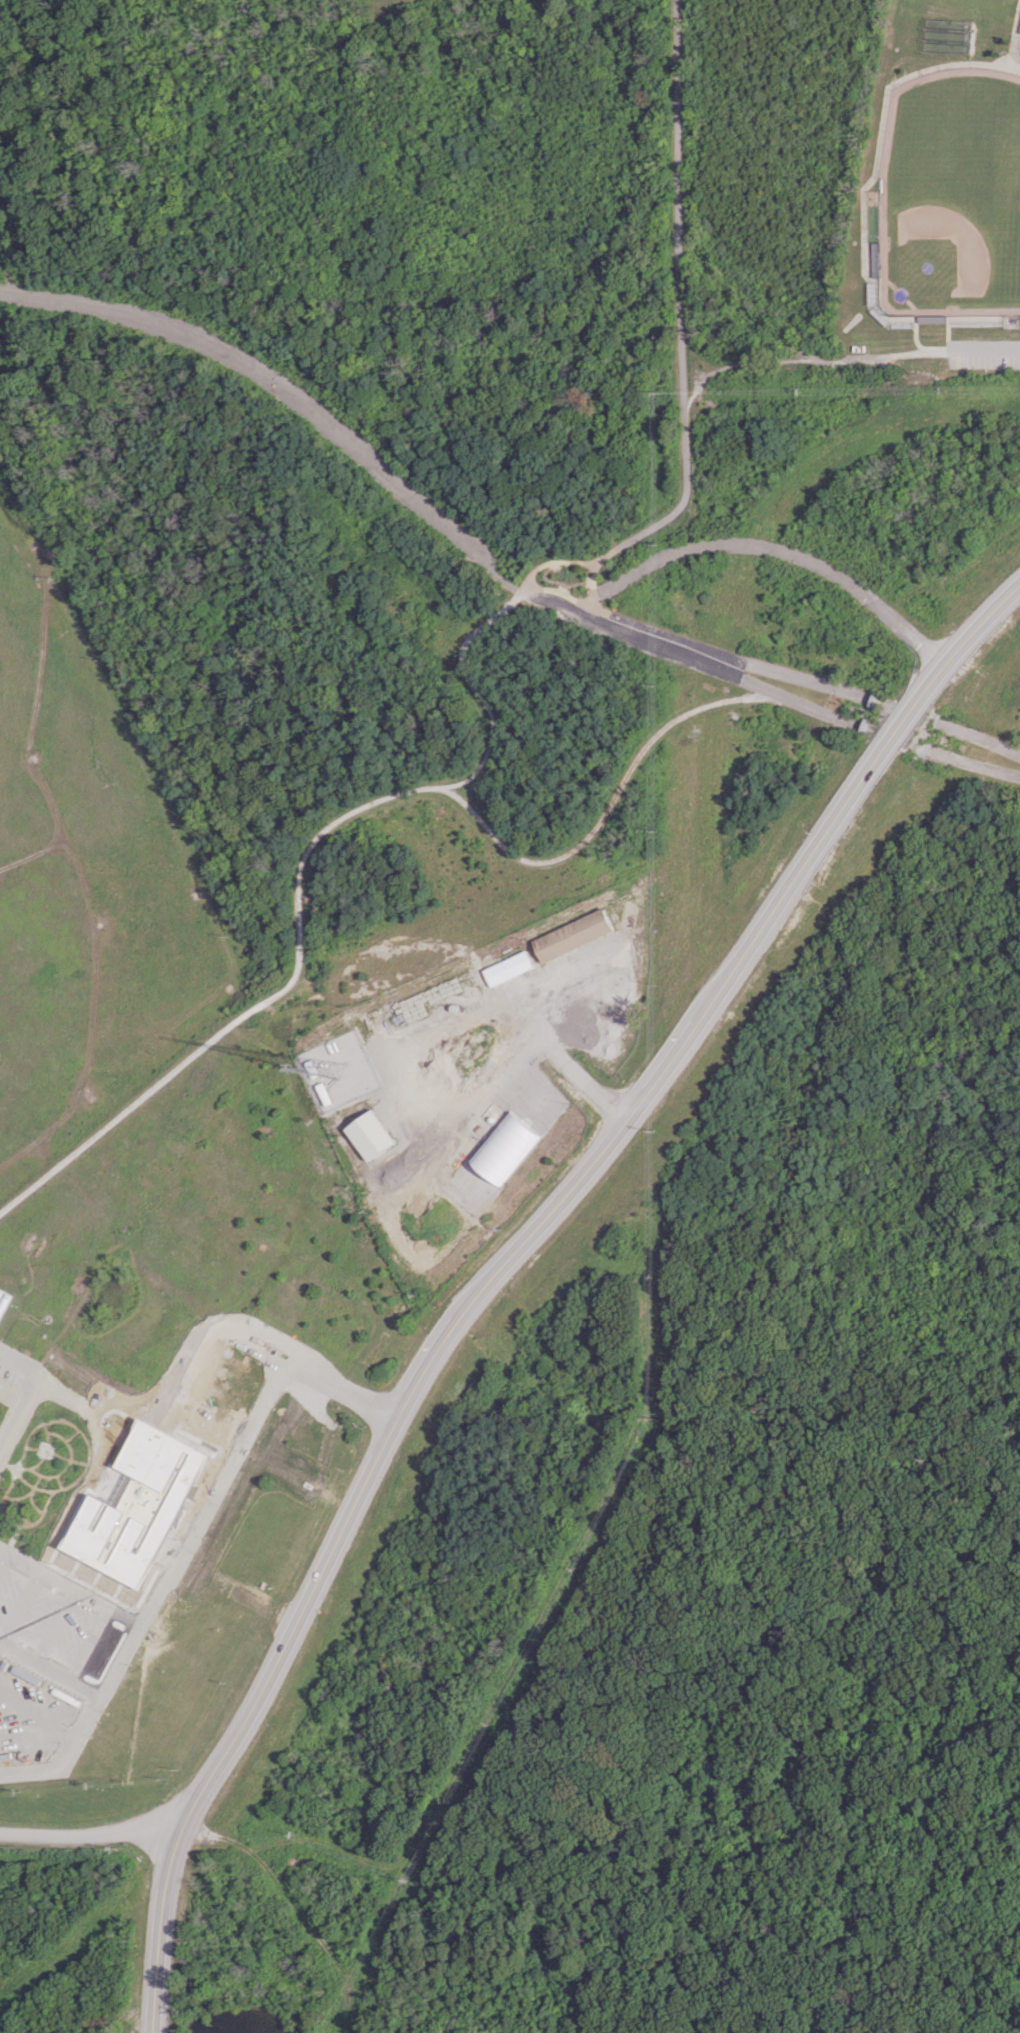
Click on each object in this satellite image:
park: (987, 5)
park: (951, 195)
road: (679, 201)
road: (983, 352)
road: (808, 361)
road: (289, 396)
road: (683, 504)
road: (770, 546)
road: (553, 562)
road: (591, 580)
road: (558, 582)
road: (562, 588)
road: (558, 590)
road: (647, 628)
road: (692, 659)
road: (784, 674)
road: (925, 688)
road: (477, 694)
road: (981, 740)
road: (972, 765)
road: (606, 810)
road: (763, 925)
building: (572, 935)
building: (508, 968)
road: (255, 1010)
road: (575, 1076)
building: (372, 1135)
building: (504, 1147)
park: (145, 1235)
road: (513, 1252)
building: (1, 1292)
building: (4, 1302)
road: (191, 1360)
road: (22, 1366)
parking lot: (10, 1374)
building: (3, 1390)
road: (61, 1395)
road: (72, 1437)
road: (56, 1455)
road: (38, 1464)
road: (69, 1465)
road: (79, 1480)
road: (59, 1483)
road: (33, 1487)
road: (213, 1491)
road: (27, 1495)
road: (32, 1505)
road: (18, 1513)
road: (1, 1554)
road: (67, 1587)
road: (19, 1607)
parking lot: (54, 1625)
road: (54, 1626)
road: (87, 1644)
road: (280, 1653)
road: (117, 1659)
road: (48, 1670)
road: (63, 1757)
road: (91, 1835)
road: (715, 1877)
road: (160, 1916)
road: (154, 2020)

